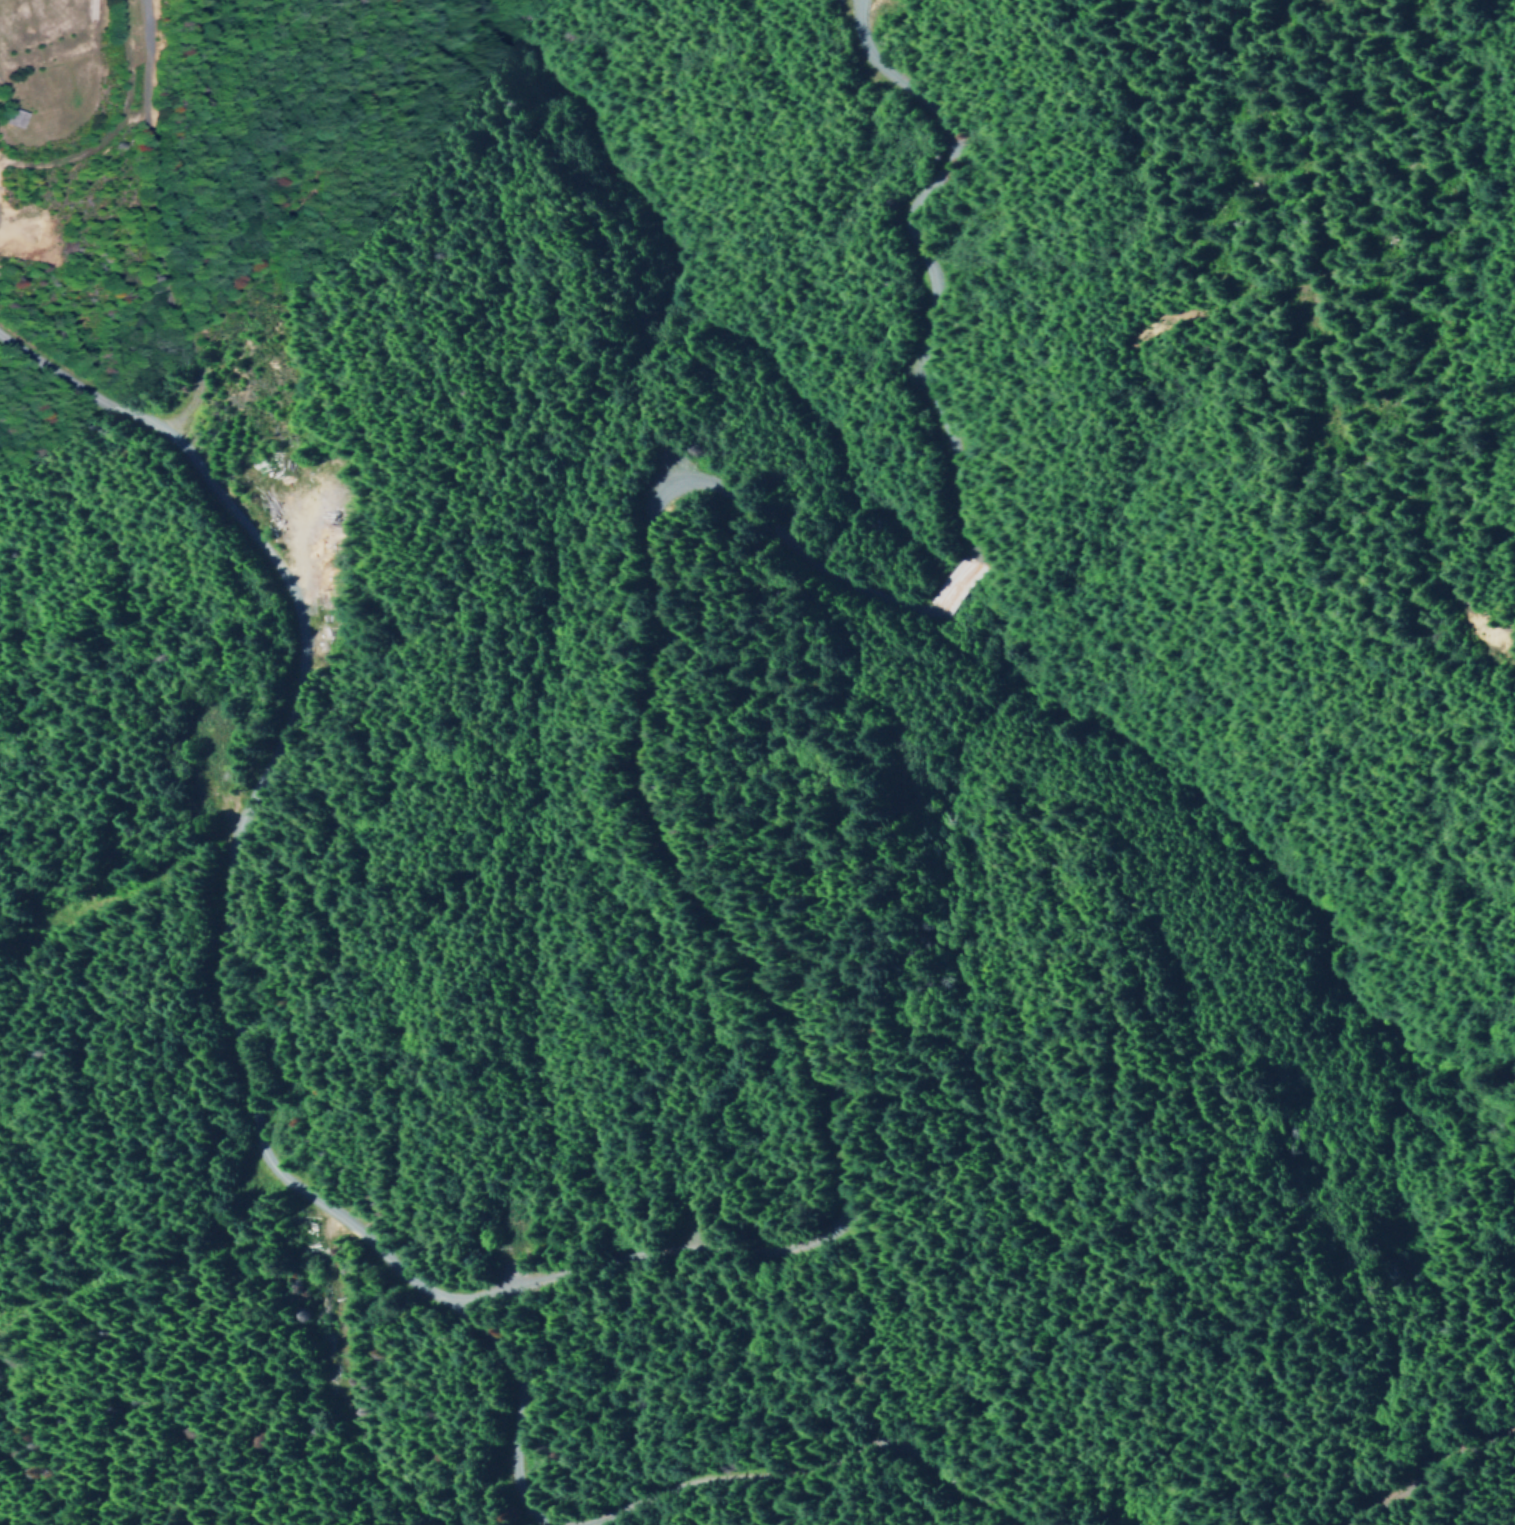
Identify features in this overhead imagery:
road: (923, 261)
road: (951, 586)
road: (641, 799)
road: (217, 927)
road: (825, 1473)

